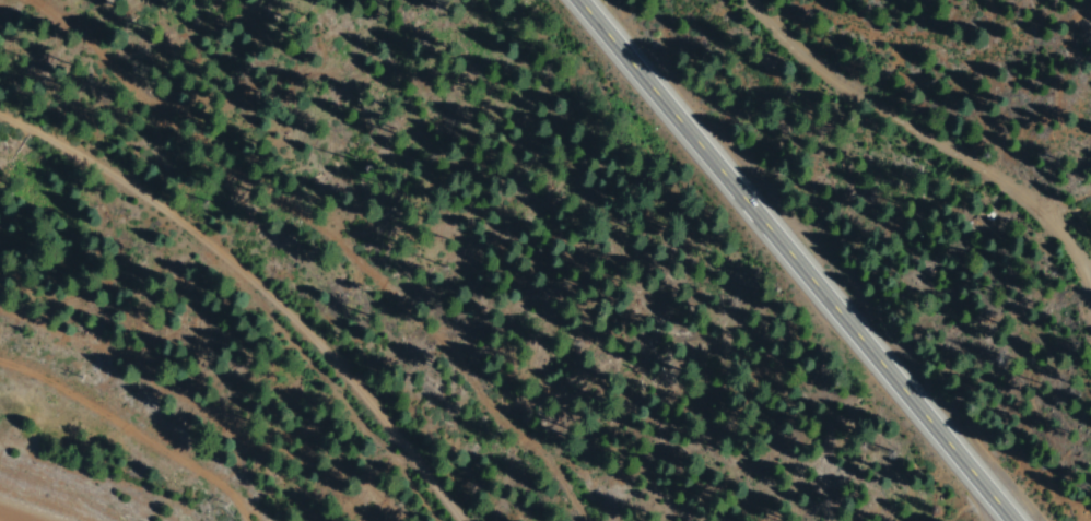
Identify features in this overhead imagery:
road: (917, 134)
road: (787, 260)
railway: (242, 294)
road: (146, 429)

